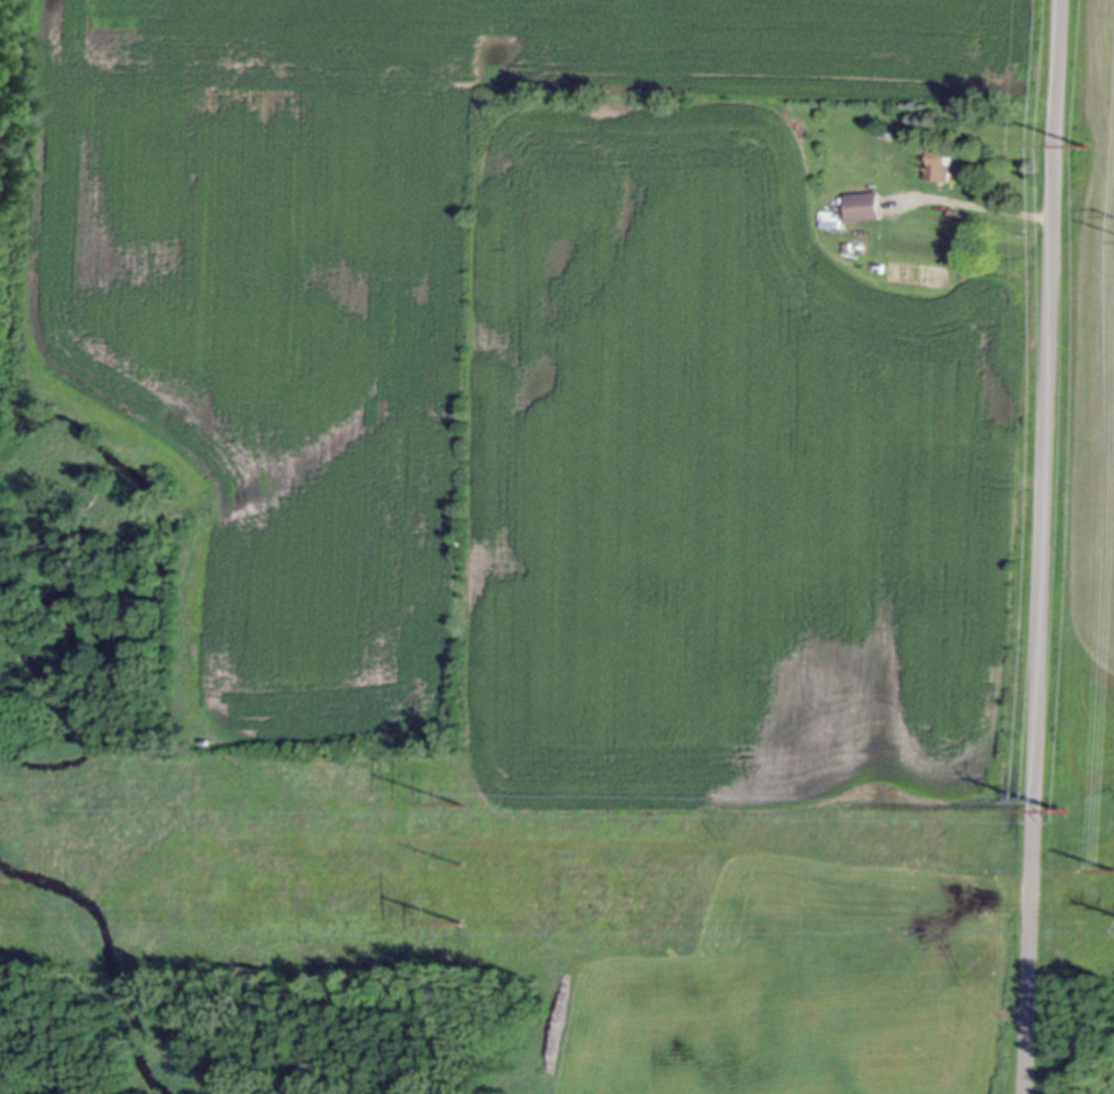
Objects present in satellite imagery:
power tower: (1084, 140)
building: (937, 162)
building: (862, 204)
road: (993, 207)
building: (830, 216)
road: (1042, 547)
river: (125, 626)
power tower: (0, 796)
power tower: (464, 799)
power tower: (1065, 808)
river: (112, 956)

